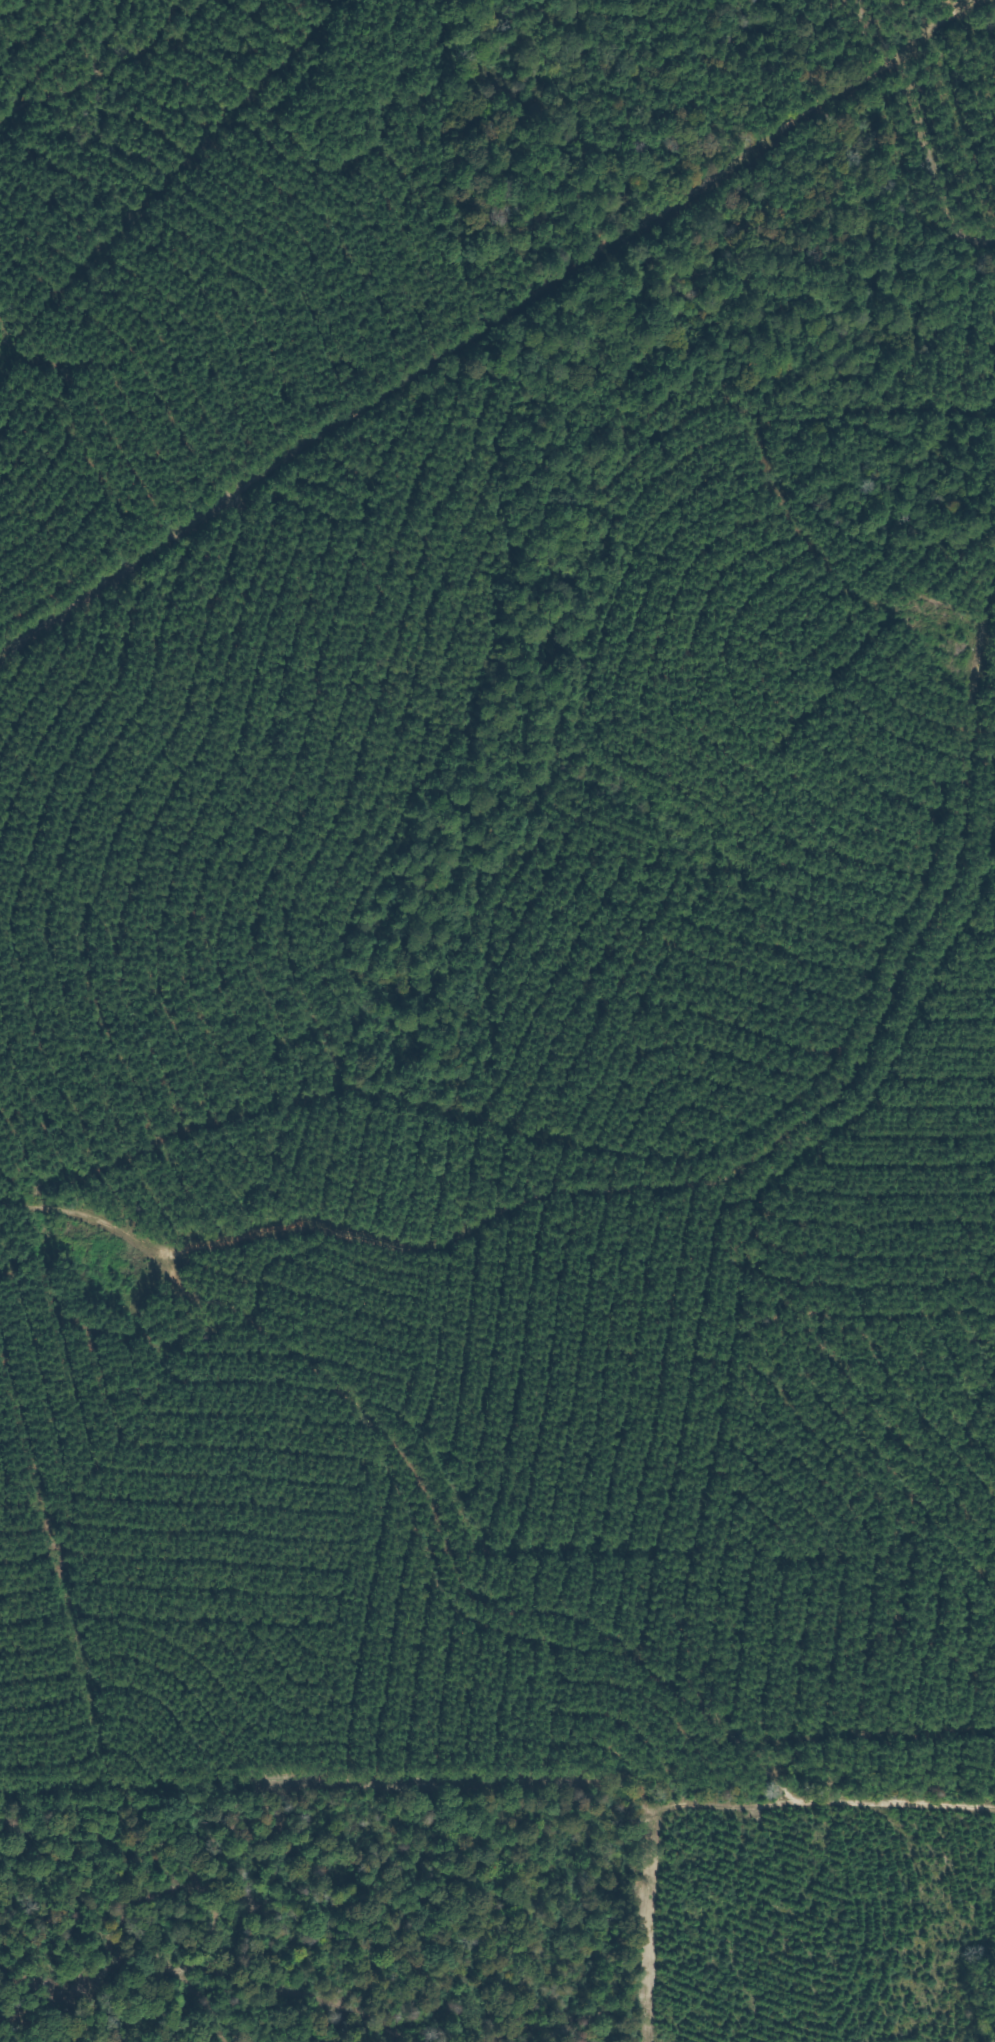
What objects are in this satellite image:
road: (489, 322)

